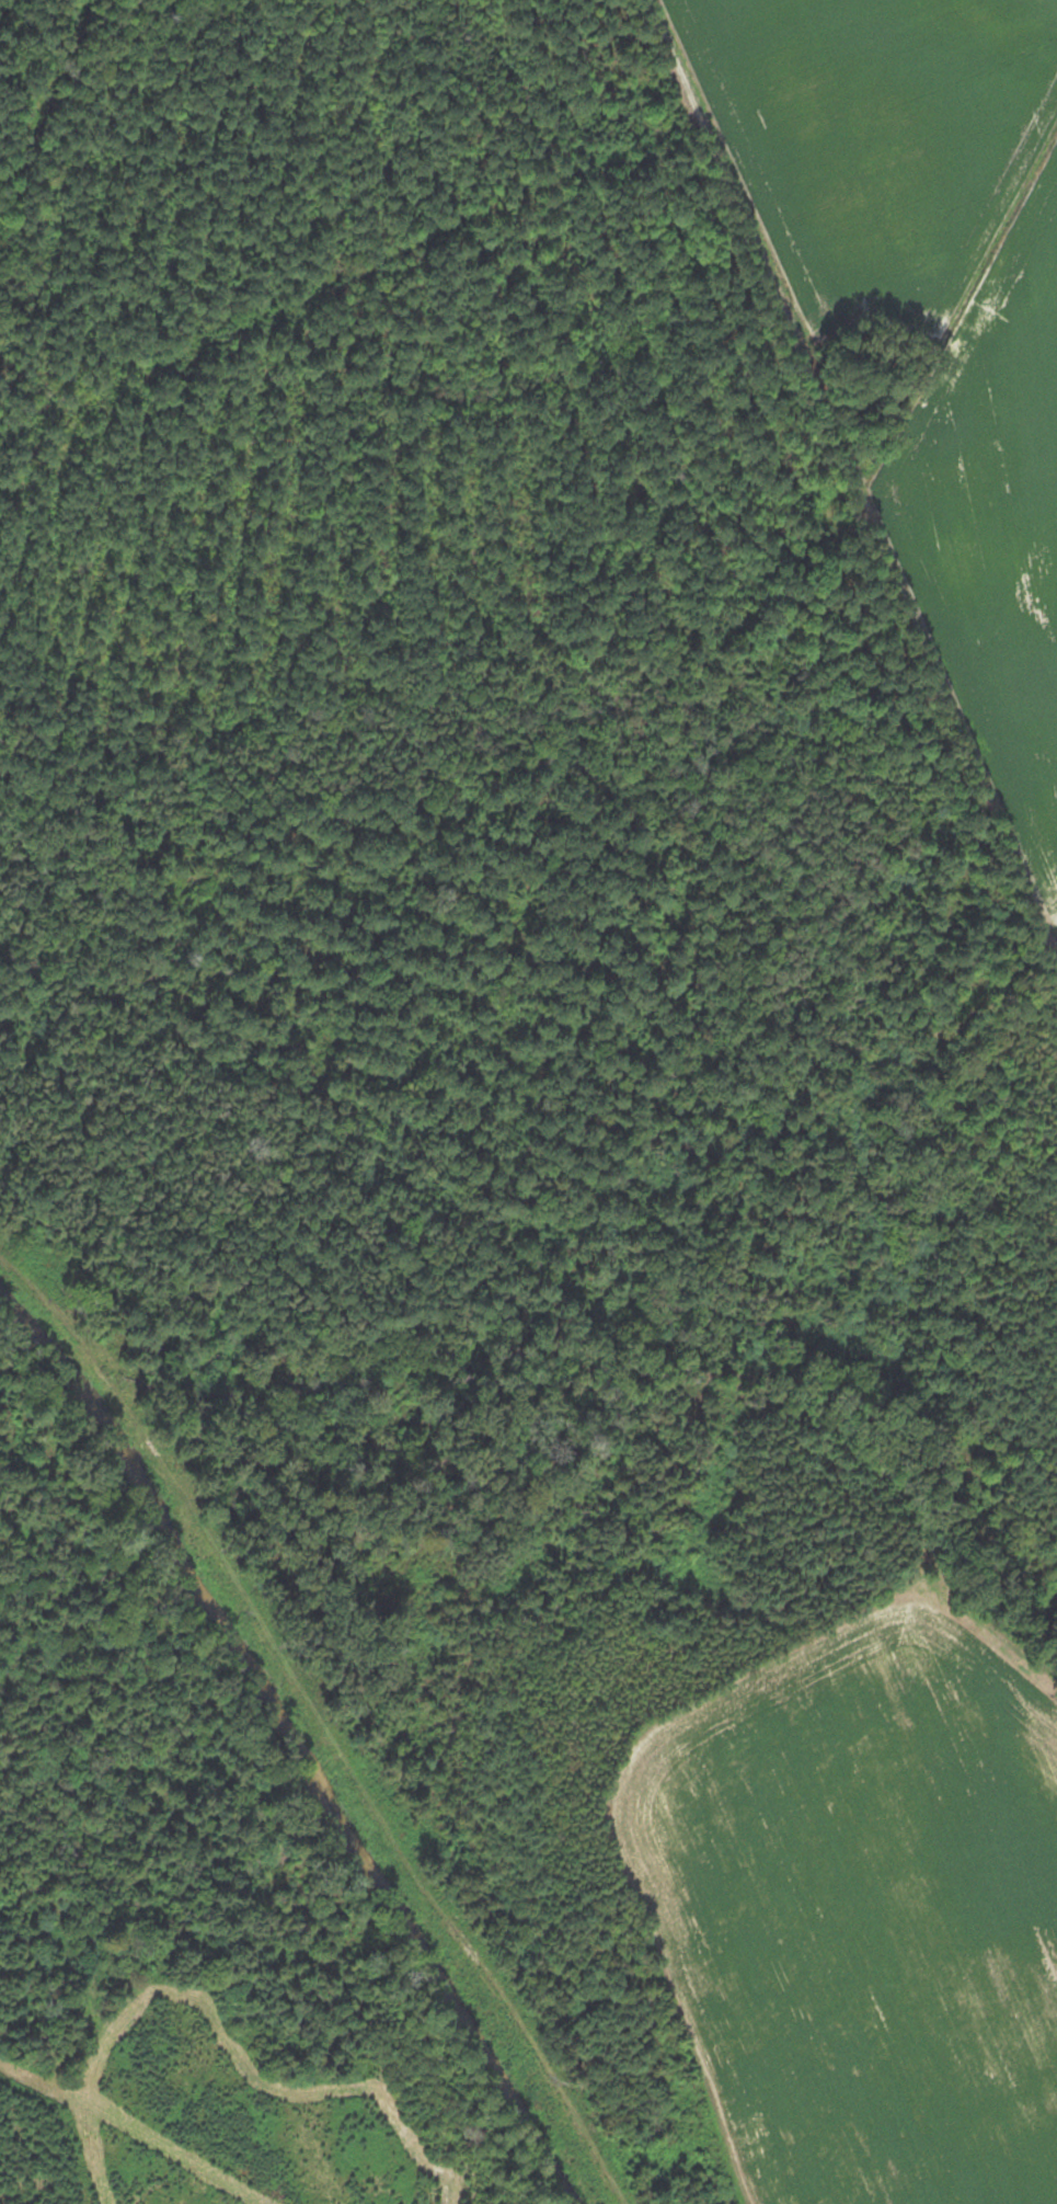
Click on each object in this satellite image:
road: (874, 423)

